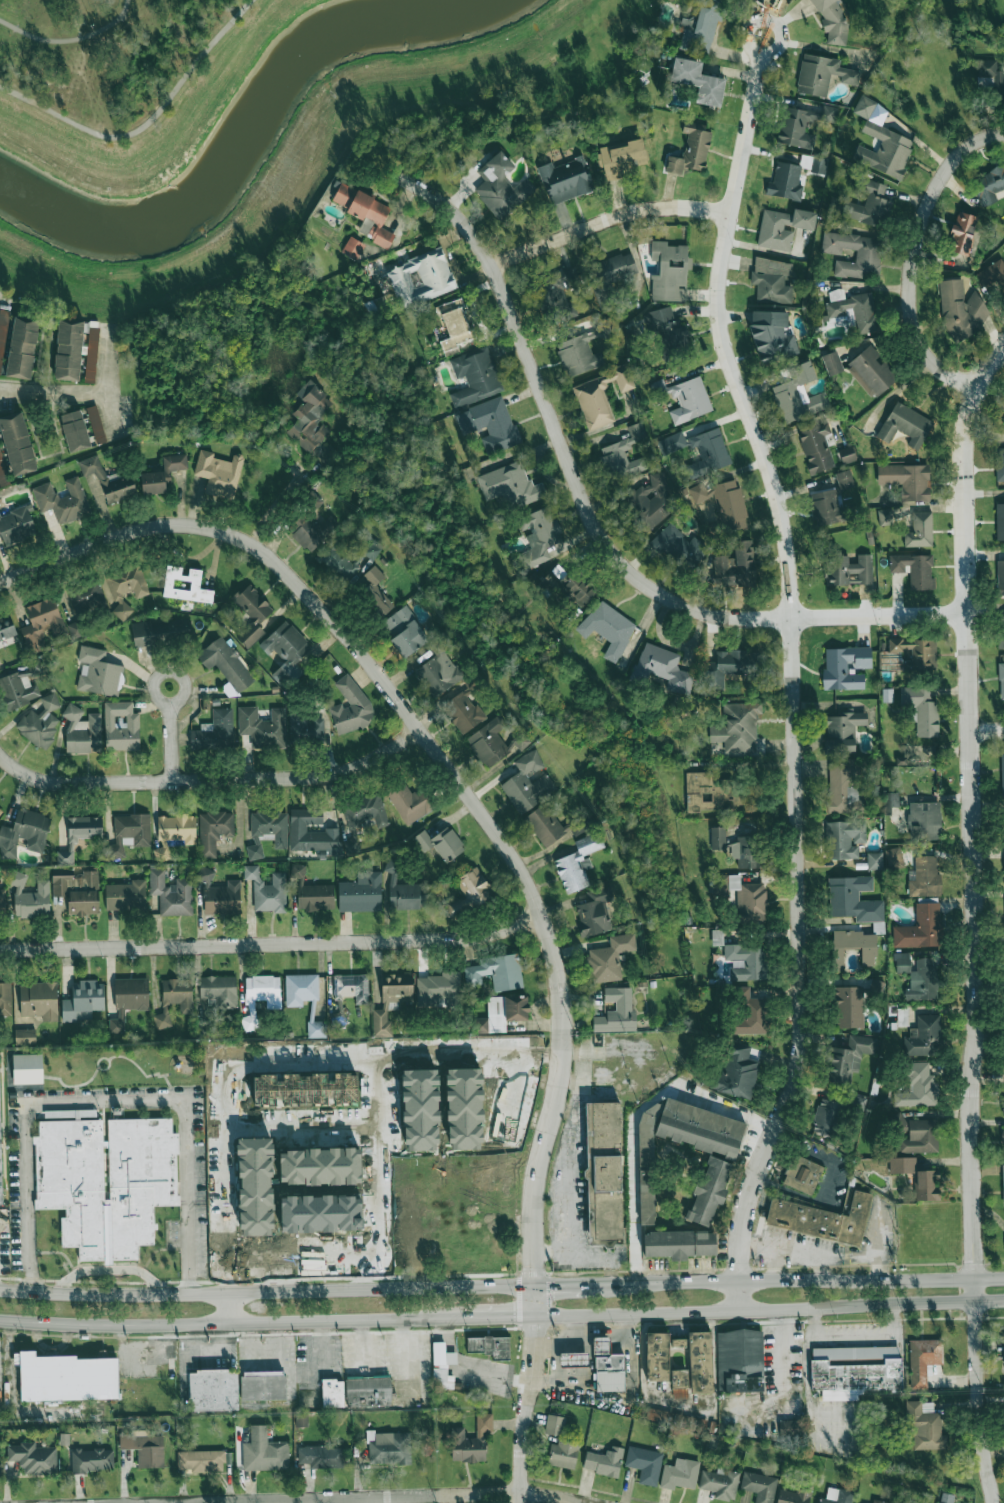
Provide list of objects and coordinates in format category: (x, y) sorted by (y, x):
building: (832, 21)
road: (78, 30)
building: (695, 31)
road: (70, 40)
park: (105, 52)
building: (821, 75)
building: (990, 76)
building: (698, 81)
road: (146, 123)
building: (802, 125)
river: (228, 136)
building: (881, 143)
building: (691, 149)
building: (621, 158)
building: (818, 165)
building: (565, 180)
building: (785, 181)
building: (989, 185)
building: (501, 187)
building: (870, 206)
building: (365, 213)
road: (609, 223)
building: (782, 227)
building: (962, 233)
building: (352, 248)
road: (912, 252)
building: (868, 257)
building: (618, 267)
building: (670, 271)
building: (992, 276)
building: (420, 278)
building: (771, 280)
building: (556, 291)
building: (853, 309)
building: (962, 309)
building: (453, 324)
building: (666, 330)
building: (3, 333)
building: (771, 336)
building: (22, 348)
building: (76, 350)
building: (581, 351)
building: (832, 363)
road: (986, 365)
building: (871, 371)
building: (475, 377)
road: (99, 386)
road: (49, 394)
building: (798, 394)
building: (600, 396)
building: (689, 400)
building: (310, 417)
building: (96, 424)
building: (490, 424)
building: (905, 425)
building: (74, 430)
building: (17, 443)
building: (816, 448)
building: (699, 450)
building: (624, 454)
building: (847, 455)
building: (1000, 465)
building: (2, 473)
building: (219, 473)
building: (162, 474)
building: (906, 480)
building: (108, 481)
building: (510, 485)
building: (62, 500)
building: (652, 500)
building: (831, 501)
building: (724, 502)
building: (884, 517)
building: (1000, 521)
road: (593, 523)
building: (16, 524)
building: (920, 530)
building: (313, 532)
building: (539, 536)
building: (680, 547)
building: (372, 549)
road: (66, 557)
building: (338, 561)
building: (735, 565)
building: (848, 570)
building: (914, 570)
building: (558, 571)
building: (1000, 577)
building: (185, 585)
building: (126, 588)
building: (570, 588)
building: (374, 591)
building: (86, 597)
building: (251, 614)
building: (42, 624)
building: (6, 627)
building: (608, 628)
building: (75, 629)
building: (404, 631)
building: (160, 632)
building: (1001, 632)
building: (285, 648)
building: (226, 663)
building: (726, 666)
building: (844, 667)
building: (662, 668)
building: (438, 671)
road: (794, 671)
building: (98, 673)
building: (1001, 680)
building: (19, 688)
road: (160, 702)
building: (350, 707)
building: (922, 709)
building: (464, 712)
building: (41, 722)
building: (121, 726)
building: (263, 727)
building: (737, 728)
road: (985, 728)
building: (307, 729)
building: (82, 731)
building: (215, 731)
building: (842, 731)
building: (520, 741)
building: (489, 742)
road: (169, 743)
building: (1002, 773)
road: (213, 779)
building: (527, 783)
building: (843, 786)
building: (702, 792)
building: (891, 799)
building: (409, 802)
building: (1, 809)
building: (365, 811)
building: (924, 820)
building: (544, 825)
building: (214, 831)
building: (267, 831)
building: (24, 833)
building: (129, 833)
building: (174, 833)
building: (79, 835)
building: (717, 838)
building: (843, 839)
building: (441, 843)
road: (969, 843)
building: (748, 852)
building: (894, 857)
building: (874, 860)
building: (578, 862)
building: (925, 877)
building: (267, 890)
building: (404, 890)
building: (78, 892)
building: (171, 892)
building: (361, 892)
building: (311, 893)
building: (469, 893)
building: (219, 894)
building: (125, 895)
building: (30, 897)
building: (751, 898)
building: (853, 899)
building: (2, 903)
building: (594, 911)
road: (541, 914)
building: (920, 928)
road: (273, 943)
building: (852, 946)
building: (610, 958)
building: (746, 961)
building: (902, 962)
building: (496, 972)
building: (922, 981)
building: (355, 987)
building: (438, 987)
building: (300, 989)
building: (219, 990)
building: (260, 997)
building: (5, 998)
building: (129, 999)
building: (38, 1000)
building: (174, 1000)
building: (391, 1000)
building: (83, 1001)
building: (849, 1006)
building: (616, 1012)
building: (503, 1013)
building: (750, 1015)
building: (316, 1029)
building: (25, 1036)
building: (924, 1037)
building: (849, 1057)
building: (27, 1068)
building: (737, 1072)
building: (1003, 1084)
building: (917, 1086)
road: (107, 1099)
building: (69, 1113)
building: (825, 1116)
road: (635, 1117)
building: (700, 1128)
building: (919, 1136)
building: (1003, 1147)
building: (0, 1155)
building: (647, 1165)
building: (68, 1167)
road: (269, 1172)
building: (604, 1174)
building: (802, 1174)
building: (917, 1177)
building: (1003, 1182)
building: (709, 1191)
building: (821, 1219)
road: (250, 1222)
building: (679, 1244)
traffic signals: (536, 1264)
road: (804, 1274)
road: (571, 1283)
traffic signals: (554, 1285)
road: (268, 1291)
road: (988, 1301)
road: (884, 1305)
road: (231, 1308)
road: (666, 1313)
road: (500, 1318)
traffic signals: (513, 1318)
road: (232, 1324)
road: (781, 1331)
traffic signals: (535, 1333)
building: (489, 1346)
building: (573, 1360)
building: (680, 1360)
building: (922, 1360)
building: (740, 1361)
building: (441, 1364)
building: (607, 1368)
building: (856, 1370)
building: (66, 1377)
building: (263, 1387)
building: (213, 1390)
road: (786, 1390)
building: (356, 1392)
road: (976, 1403)
building: (656, 1415)
building: (554, 1425)
building: (924, 1427)
building: (789, 1428)
building: (471, 1441)
building: (389, 1448)
building: (145, 1449)
building: (264, 1451)
building: (563, 1453)
building: (321, 1456)
building: (33, 1457)
building: (91, 1460)
building: (200, 1461)
building: (604, 1461)
building: (644, 1464)
building: (680, 1475)
building: (720, 1482)
building: (759, 1486)
building: (795, 1494)
building: (837, 1496)
road: (386, 1498)
building: (945, 1498)
building: (878, 1501)

